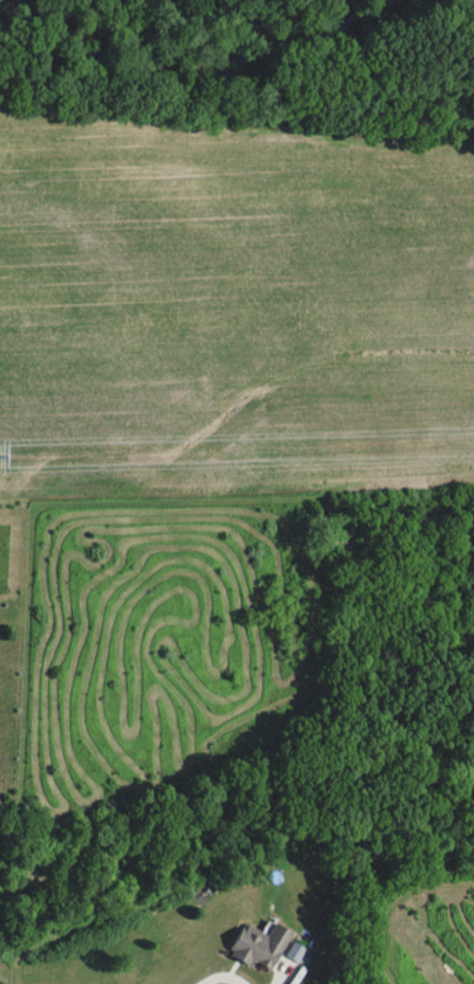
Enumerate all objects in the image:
river: (191, 52)
building: (257, 944)
building: (293, 951)
road: (221, 970)

